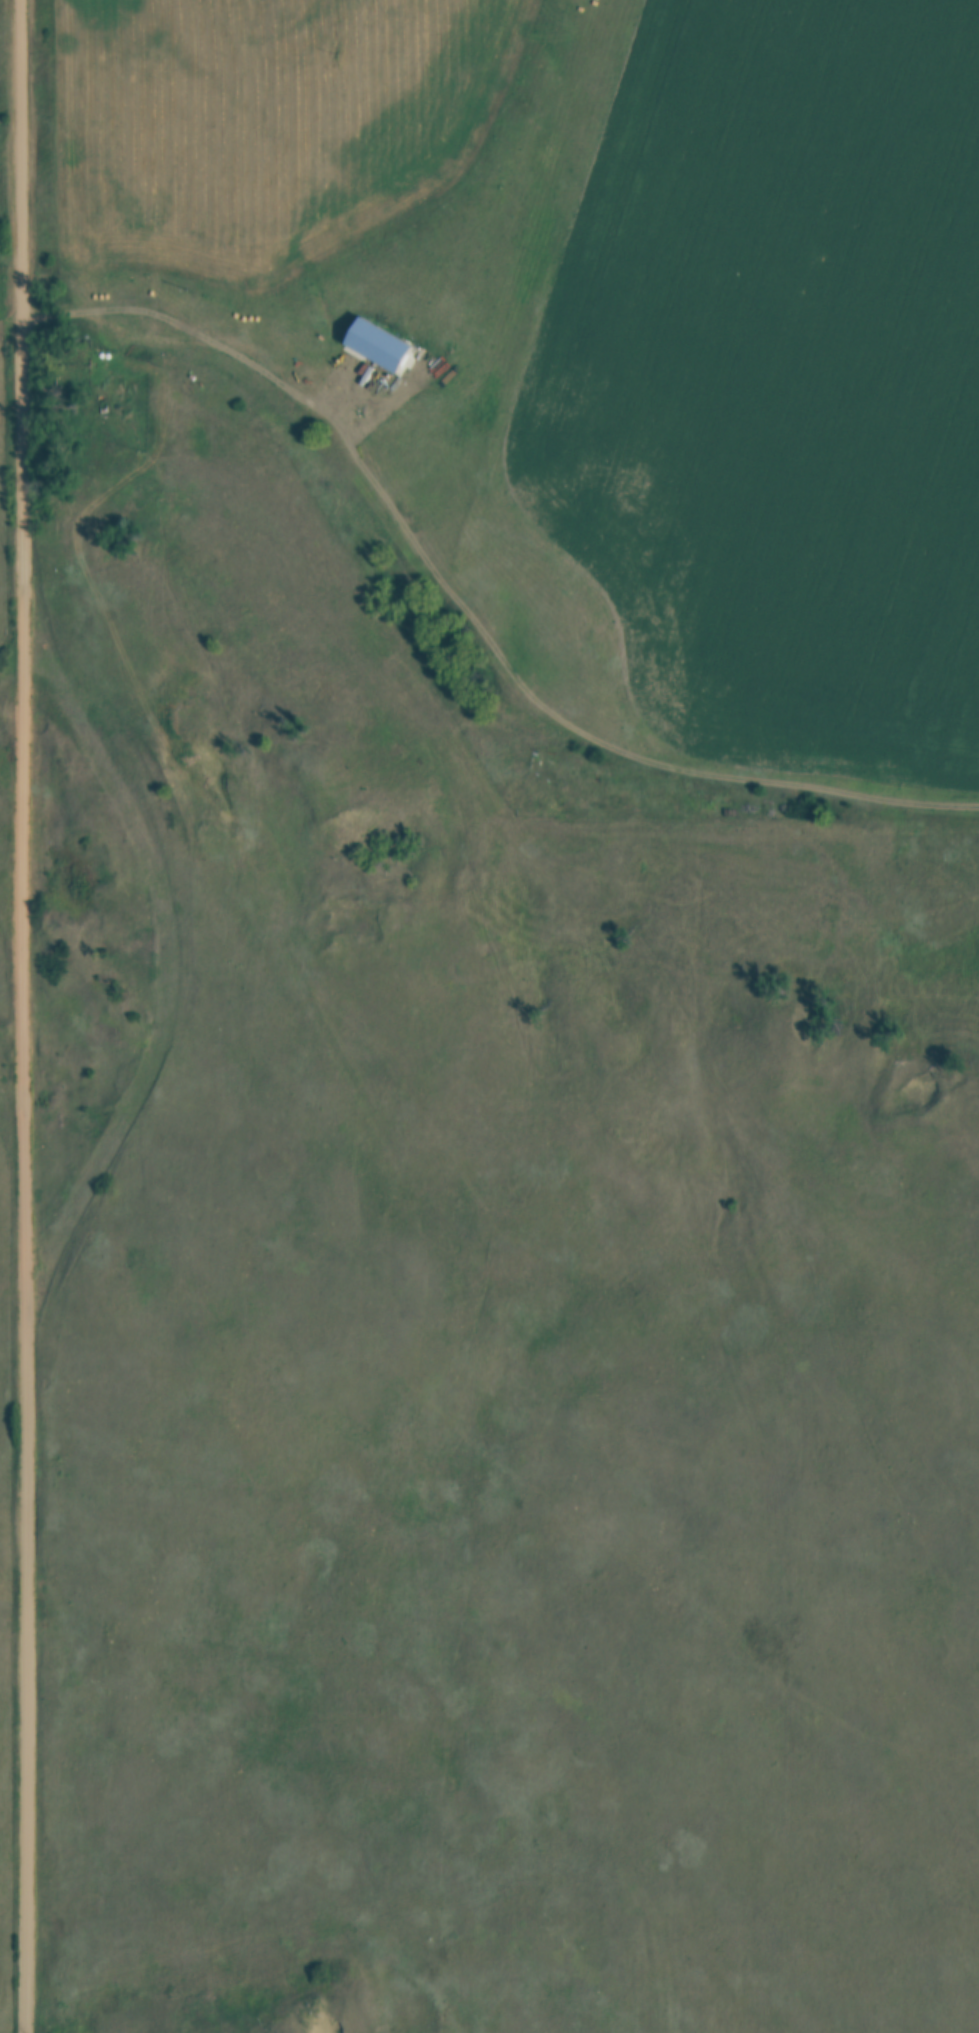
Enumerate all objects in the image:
road: (465, 613)
road: (166, 955)
road: (27, 1016)

